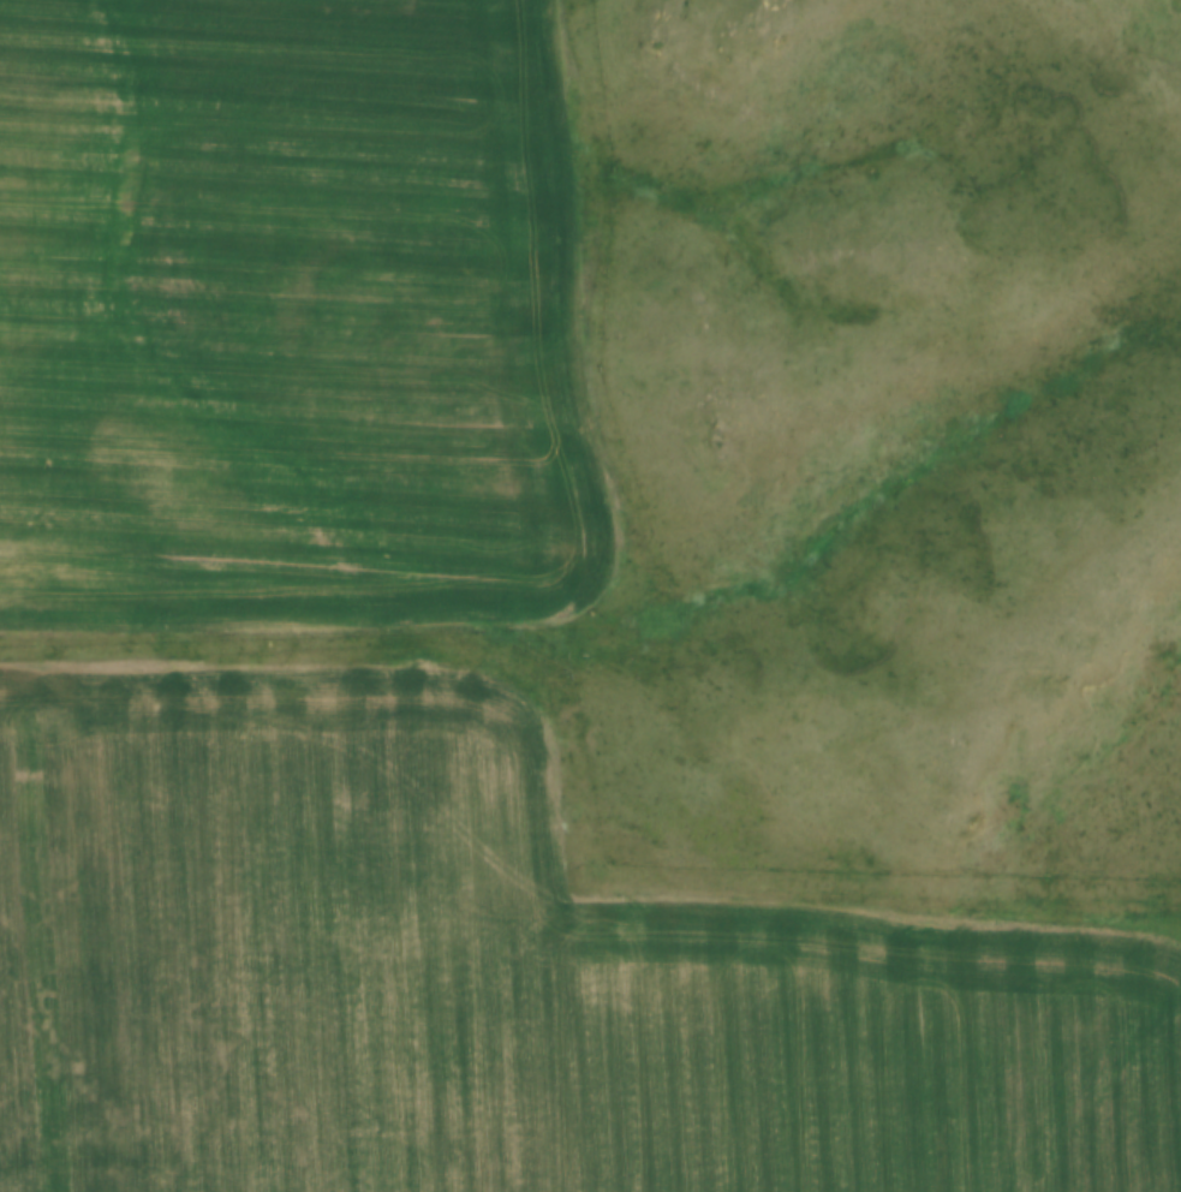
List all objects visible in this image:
road: (538, 672)
road: (366, 914)

